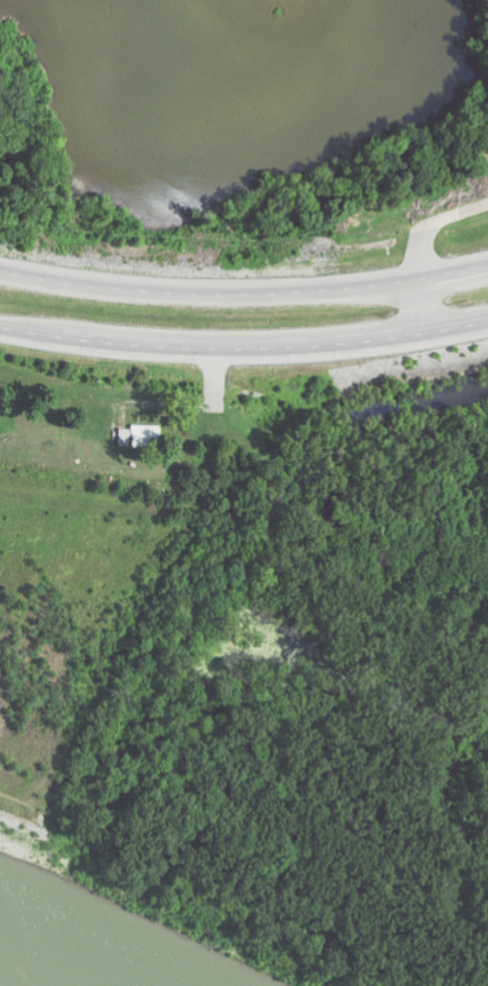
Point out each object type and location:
road: (432, 227)
road: (244, 297)
road: (244, 350)
building: (141, 436)

